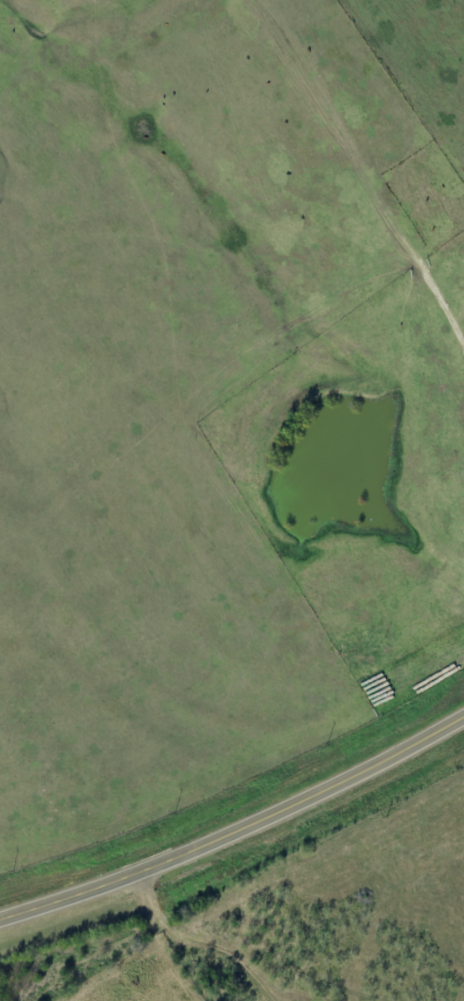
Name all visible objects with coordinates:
road: (241, 831)
road: (14, 969)

